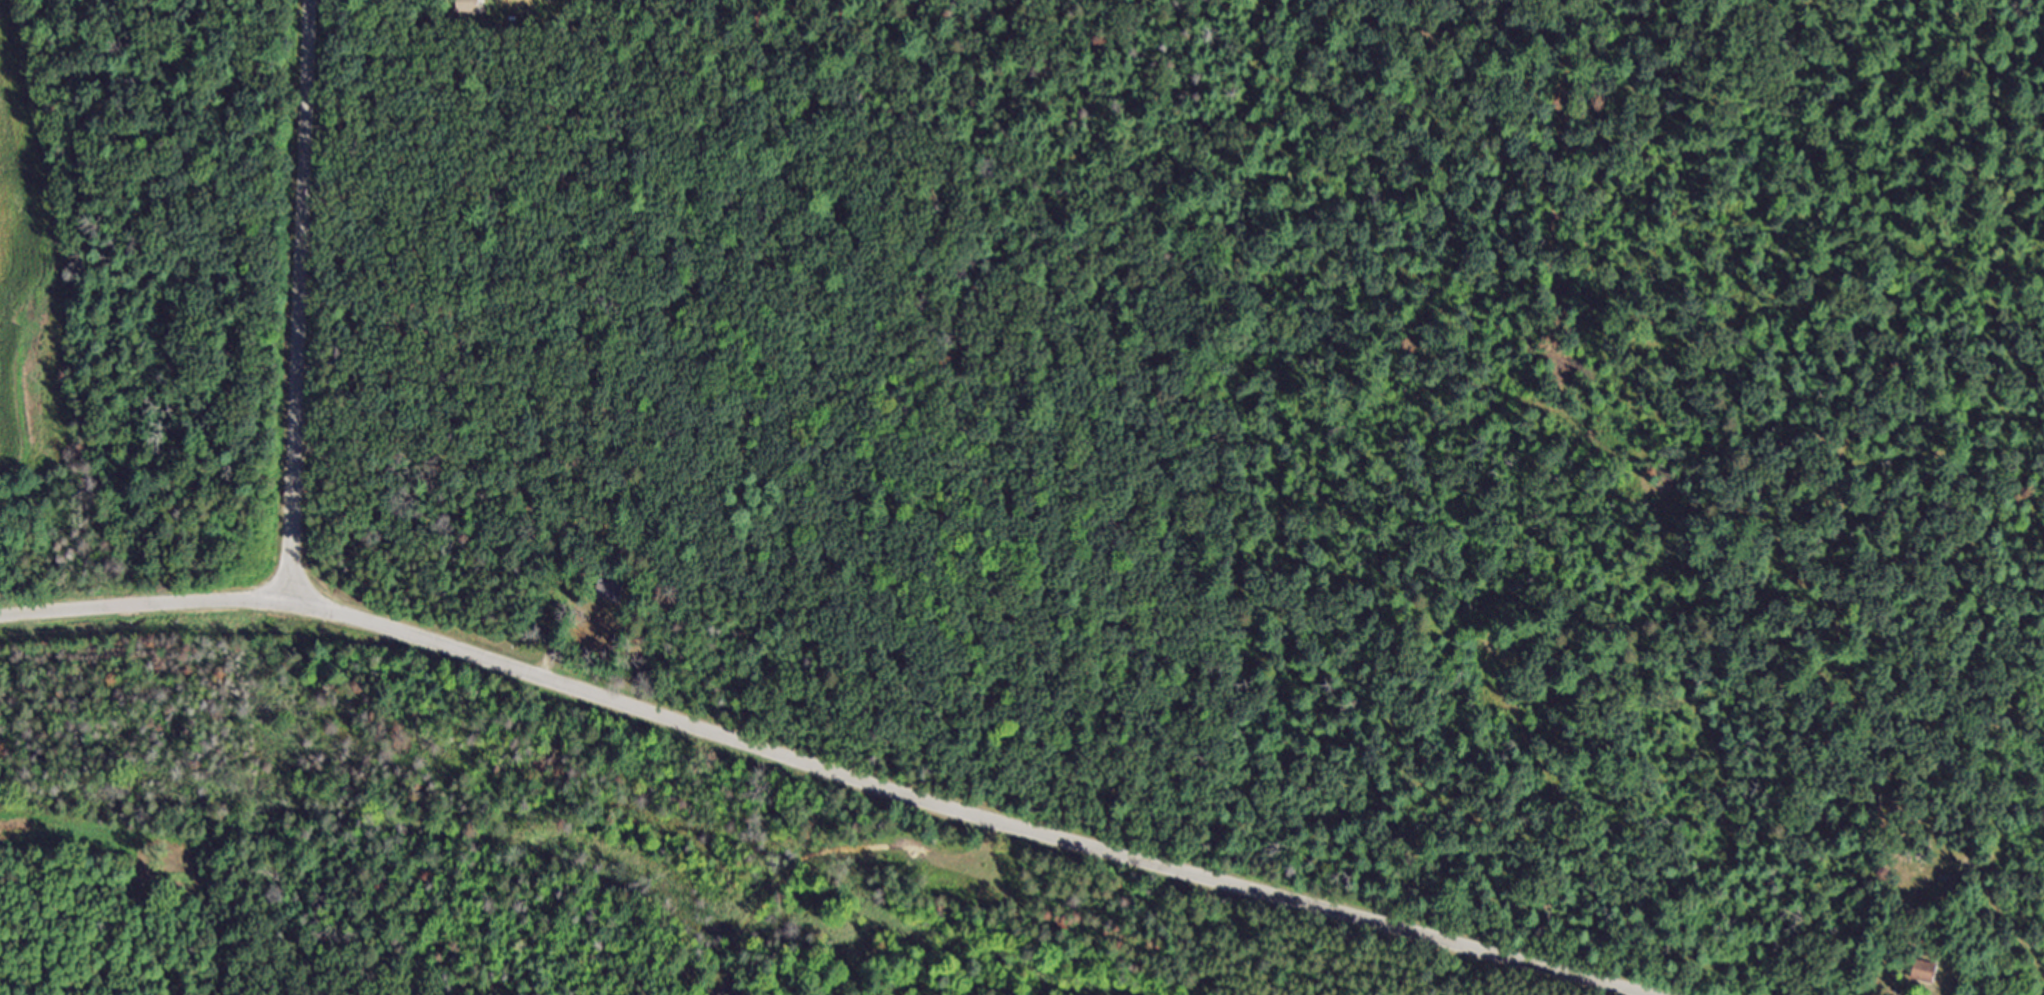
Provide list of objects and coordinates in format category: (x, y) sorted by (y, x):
road: (304, 303)
building: (619, 592)
road: (828, 769)
building: (1927, 979)

